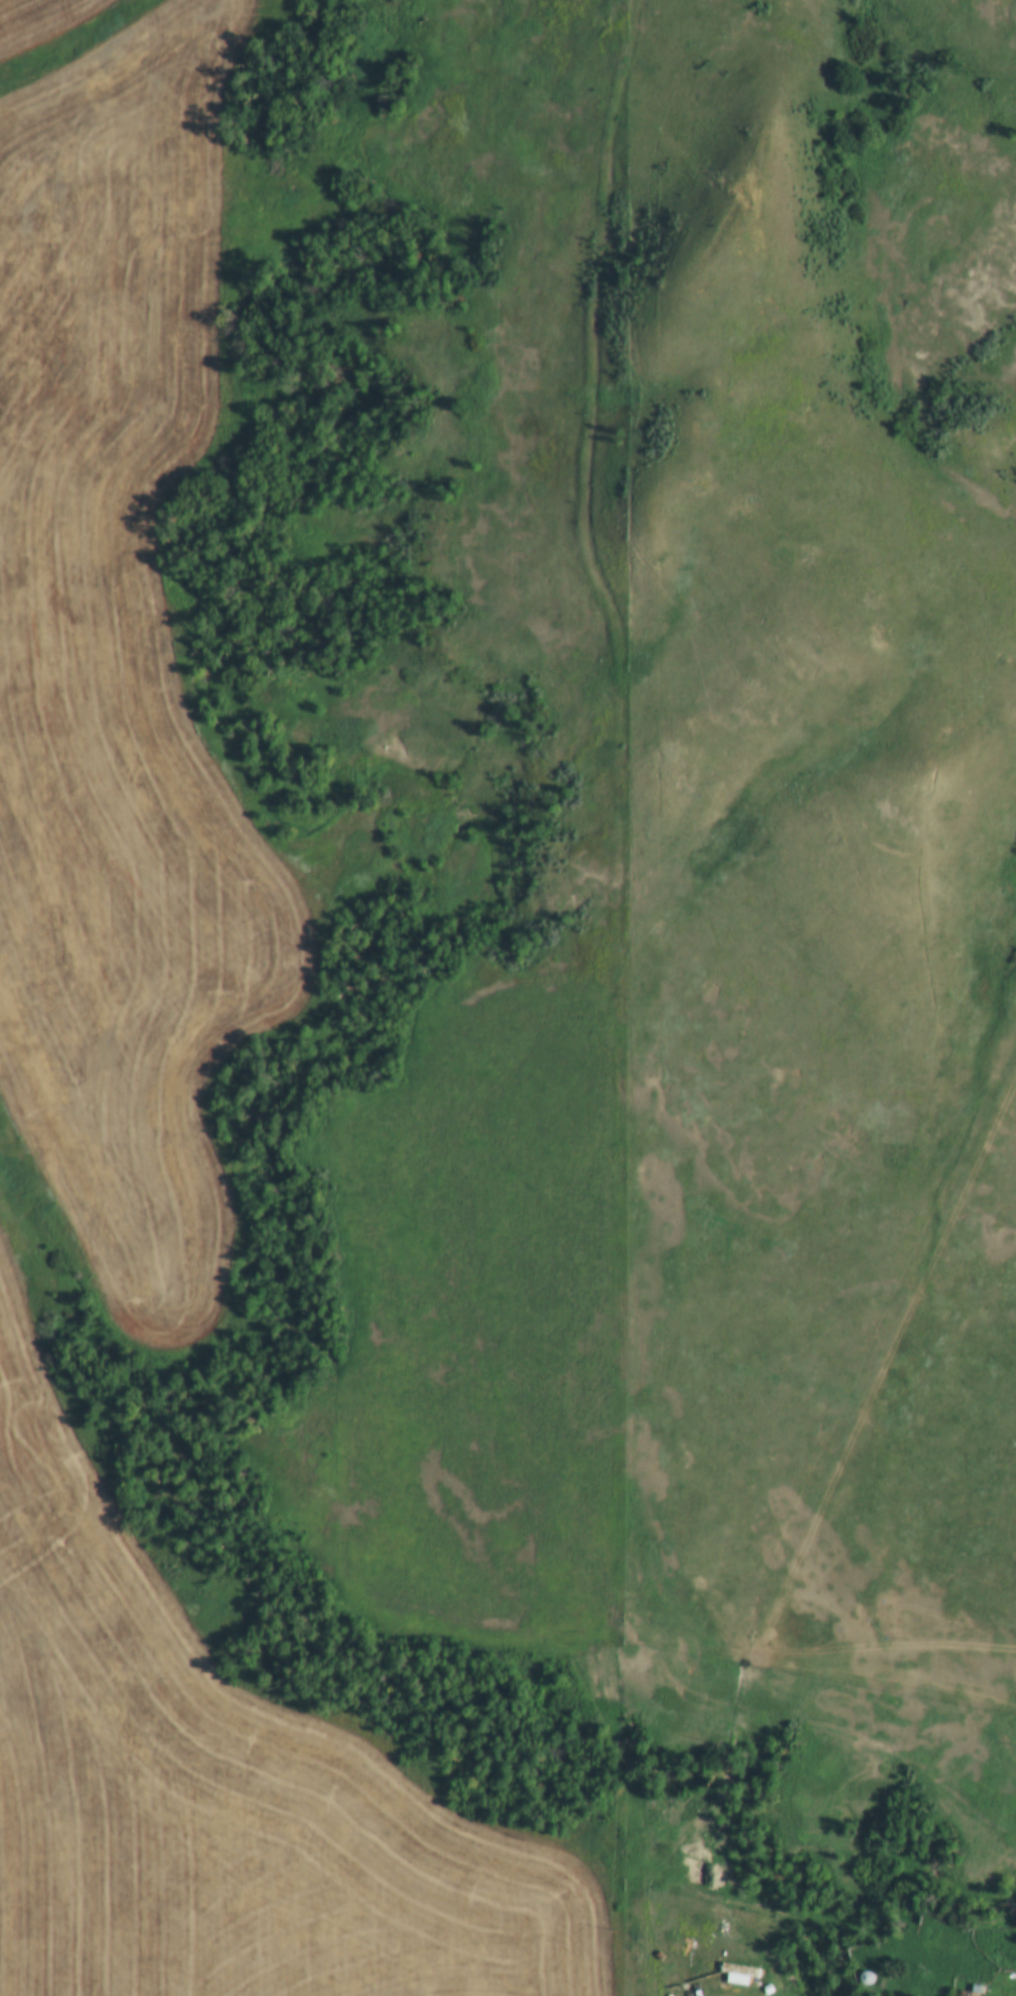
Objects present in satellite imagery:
building: (968, 1993)

